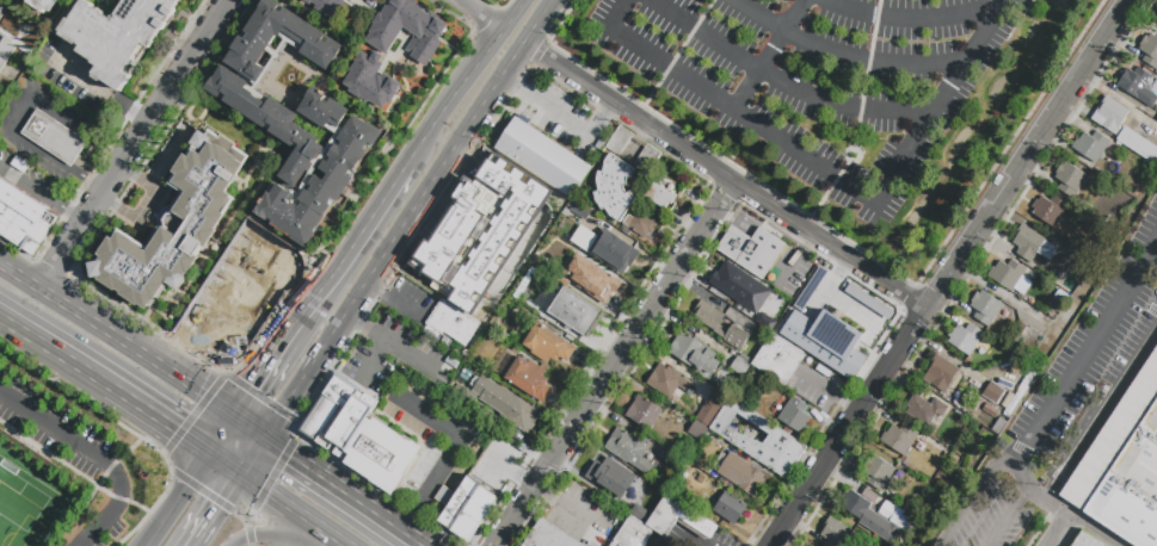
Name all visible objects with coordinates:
building: (42, 4)
building: (327, 7)
building: (2, 10)
road: (480, 15)
building: (1156, 18)
road: (910, 19)
road: (537, 21)
building: (405, 29)
building: (117, 35)
building: (5, 50)
building: (1149, 50)
road: (771, 54)
road: (972, 55)
road: (843, 57)
road: (513, 60)
road: (676, 60)
road: (868, 75)
building: (371, 80)
parking lot: (819, 81)
road: (464, 82)
road: (513, 83)
road: (783, 83)
building: (1138, 86)
road: (99, 88)
road: (556, 113)
road: (20, 114)
building: (1109, 114)
road: (601, 119)
building: (284, 124)
road: (775, 134)
building: (55, 137)
building: (620, 141)
building: (1139, 141)
road: (133, 143)
building: (1091, 145)
road: (116, 154)
building: (543, 157)
road: (858, 157)
building: (647, 159)
parking lot: (25, 176)
building: (675, 176)
road: (724, 176)
building: (1070, 179)
road: (94, 185)
road: (832, 190)
road: (724, 194)
road: (41, 196)
building: (660, 196)
building: (621, 197)
building: (1050, 210)
building: (16, 212)
building: (202, 217)
building: (586, 219)
road: (404, 225)
building: (498, 230)
building: (39, 231)
building: (450, 231)
building: (1033, 247)
building: (753, 249)
road: (17, 250)
road: (236, 250)
road: (349, 254)
building: (614, 254)
road: (49, 271)
road: (949, 273)
building: (1007, 273)
building: (530, 277)
building: (734, 281)
building: (593, 286)
road: (374, 291)
building: (793, 294)
building: (1061, 298)
building: (238, 302)
building: (985, 308)
road: (402, 310)
building: (574, 312)
road: (195, 315)
building: (709, 318)
building: (775, 319)
building: (451, 323)
road: (359, 324)
road: (144, 325)
road: (117, 337)
building: (736, 337)
building: (965, 337)
road: (32, 340)
building: (547, 346)
road: (172, 348)
road: (404, 350)
building: (693, 354)
building: (833, 354)
road: (374, 359)
building: (740, 365)
road: (605, 373)
building: (941, 374)
road: (259, 376)
building: (523, 377)
building: (667, 381)
road: (1065, 384)
traffic signals: (253, 386)
building: (995, 396)
road: (260, 397)
parking lot: (1063, 402)
building: (499, 403)
road: (285, 405)
building: (327, 405)
building: (712, 407)
road: (139, 408)
building: (924, 409)
road: (192, 412)
building: (644, 412)
building: (992, 414)
building: (794, 415)
road: (1101, 416)
building: (346, 421)
road: (250, 426)
road: (443, 426)
road: (291, 429)
road: (130, 430)
traffic signals: (174, 430)
building: (697, 432)
road: (223, 434)
building: (898, 438)
building: (737, 439)
building: (629, 449)
parking lot: (70, 453)
traffic signals: (291, 453)
building: (381, 453)
road: (49, 455)
road: (256, 455)
road: (96, 457)
park: (67, 464)
road: (228, 464)
road: (566, 465)
building: (676, 465)
building: (1124, 470)
road: (273, 473)
building: (605, 473)
building: (741, 474)
building: (879, 474)
road: (99, 484)
road: (537, 488)
building: (641, 489)
road: (201, 490)
road: (347, 490)
road: (421, 498)
road: (180, 500)
road: (974, 500)
building: (457, 503)
building: (479, 504)
road: (293, 508)
building: (731, 508)
traffic signals: (222, 509)
road: (221, 510)
park: (24, 513)
road: (250, 514)
building: (869, 515)
road: (242, 517)
road: (1009, 517)
building: (899, 520)
building: (661, 523)
building: (464, 526)
road: (1059, 531)
road: (1093, 531)
building: (835, 533)
road: (250, 535)
traffic signals: (245, 536)
road: (283, 536)
building: (549, 536)
building: (1087, 540)
road: (494, 542)
road: (690, 542)
road: (345, 544)
road: (251, 545)

